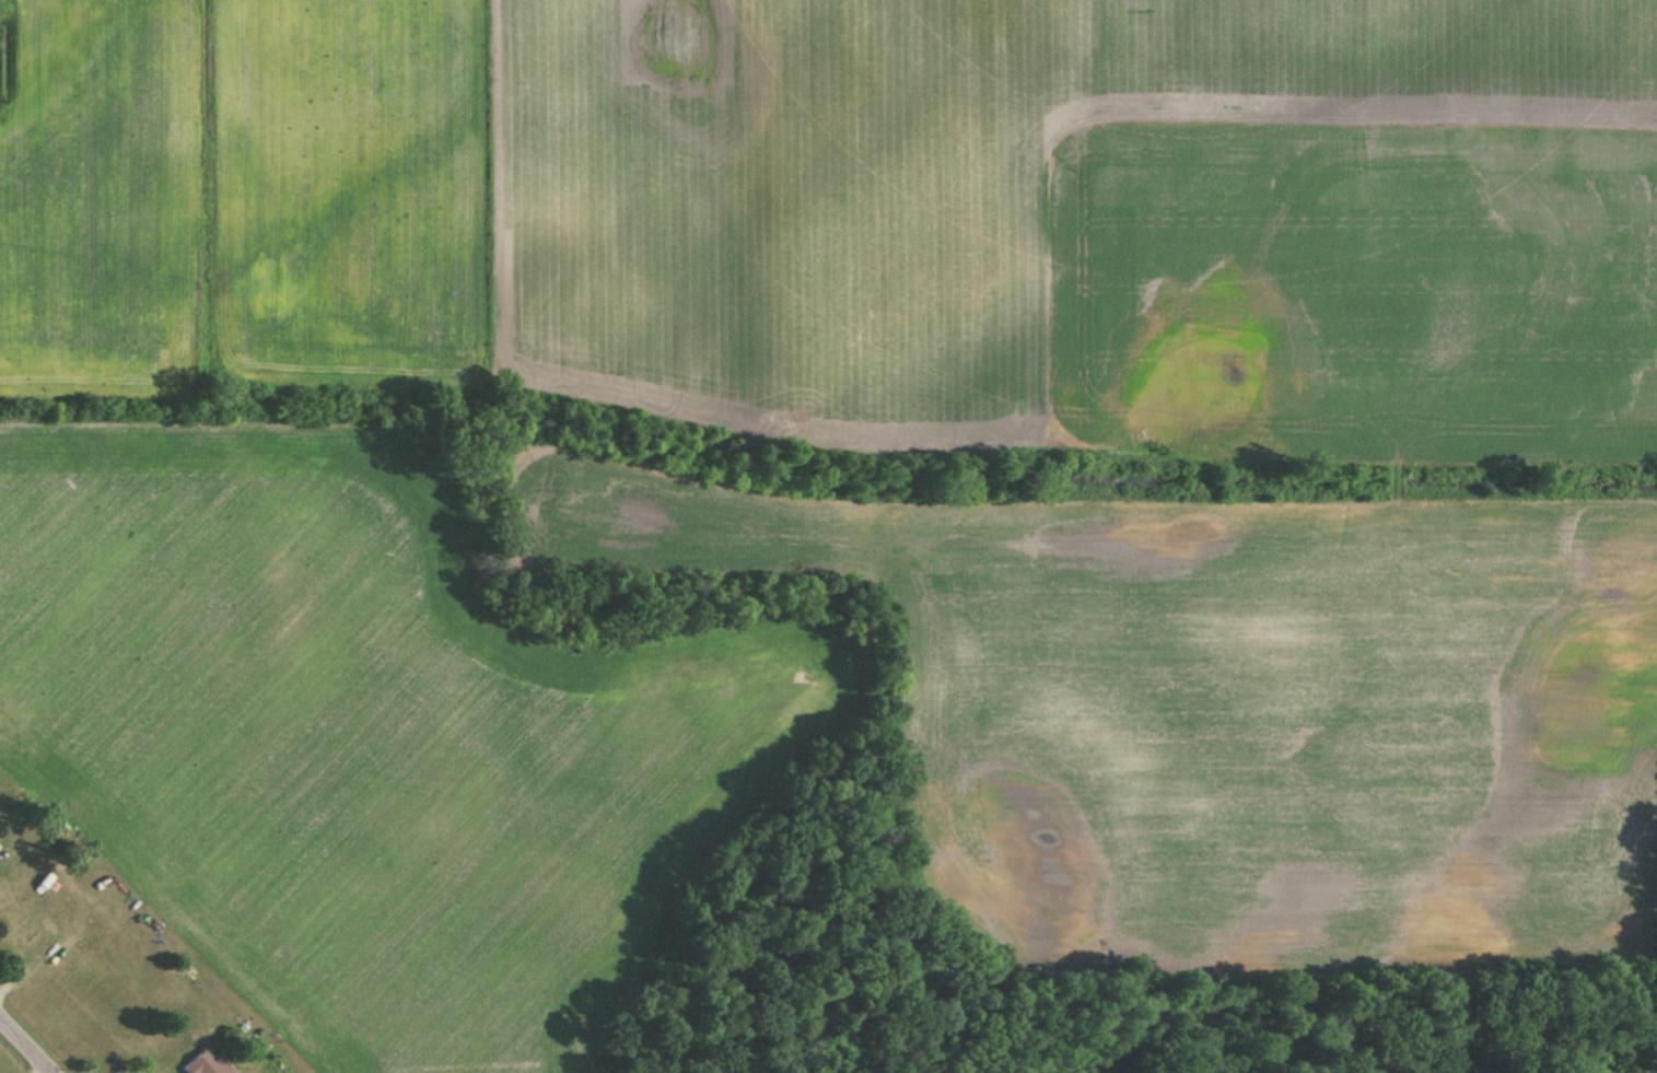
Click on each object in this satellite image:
road: (26, 1045)
building: (202, 1064)

